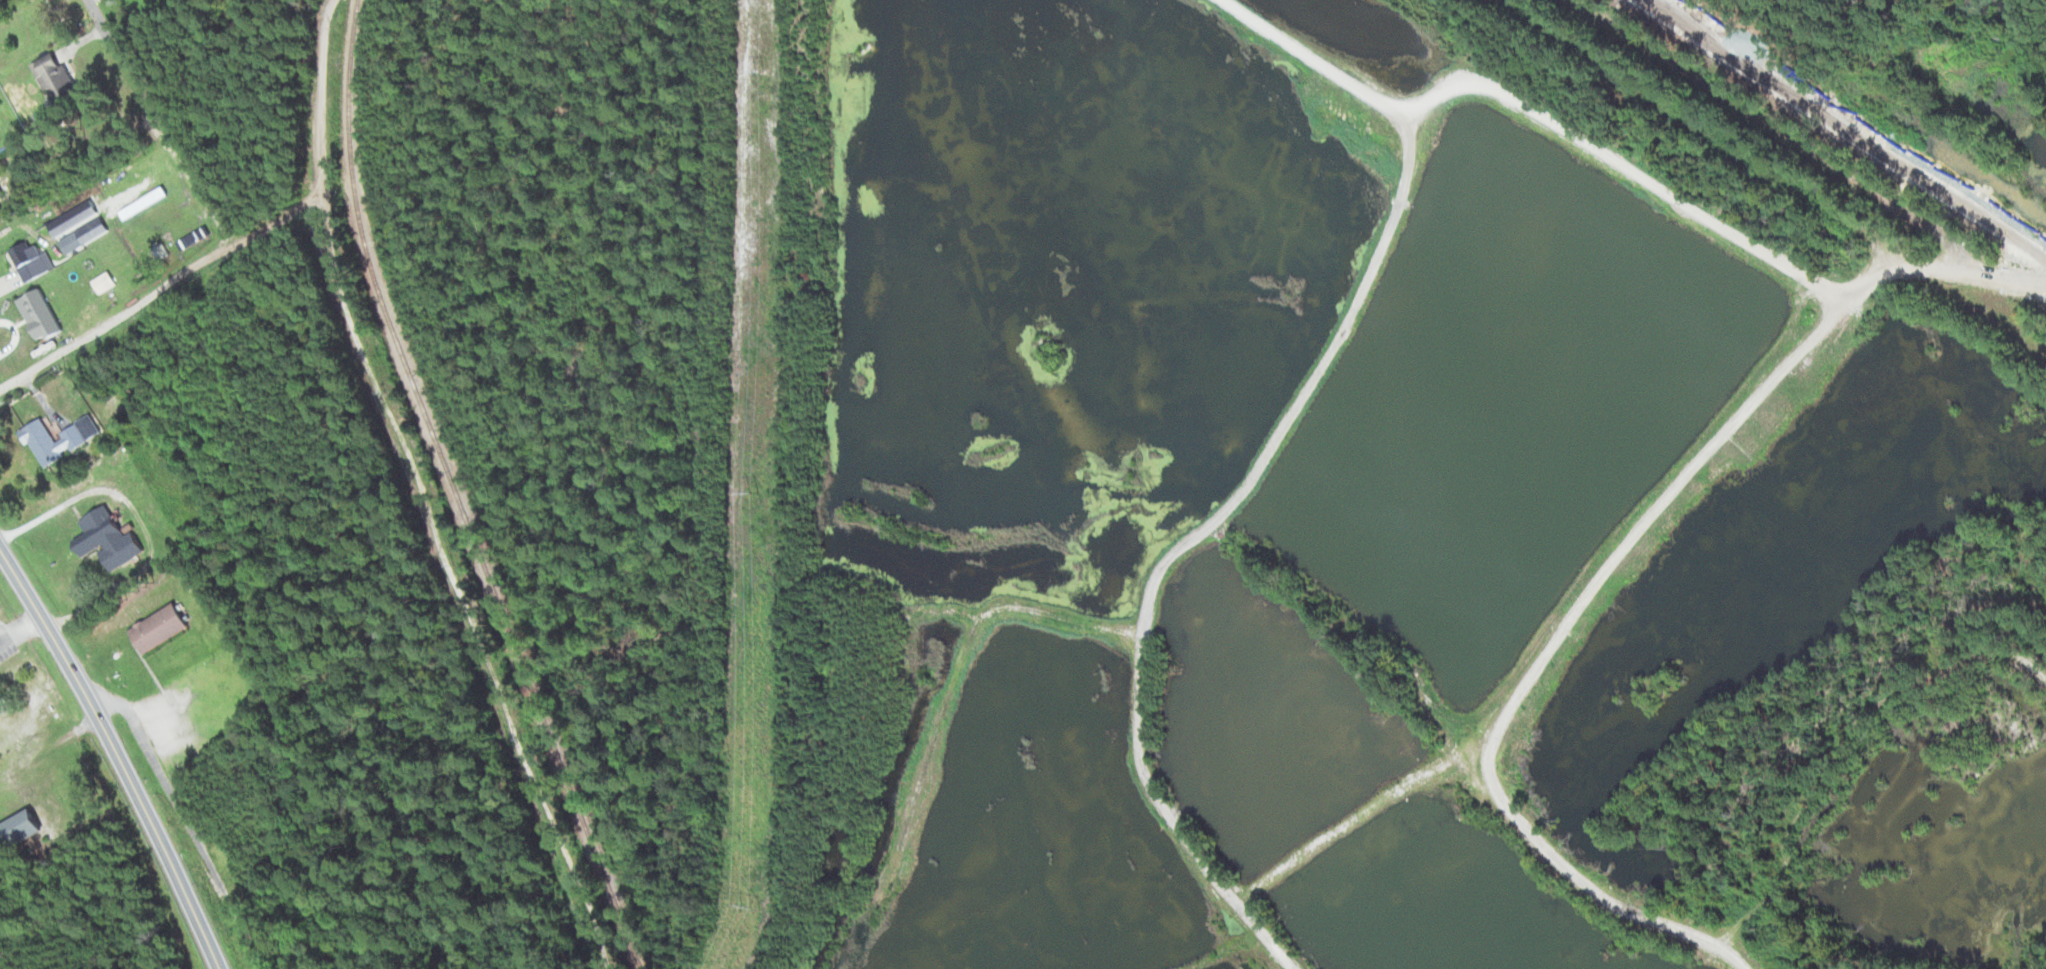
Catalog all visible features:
road: (98, 18)
power tower: (760, 71)
building: (56, 78)
road: (1542, 119)
building: (68, 234)
building: (30, 261)
building: (107, 286)
building: (42, 314)
road: (111, 320)
building: (58, 441)
power tower: (754, 489)
railway: (462, 491)
road: (1209, 530)
building: (109, 538)
road: (1608, 568)
building: (161, 629)
road: (122, 754)
power tower: (747, 903)

